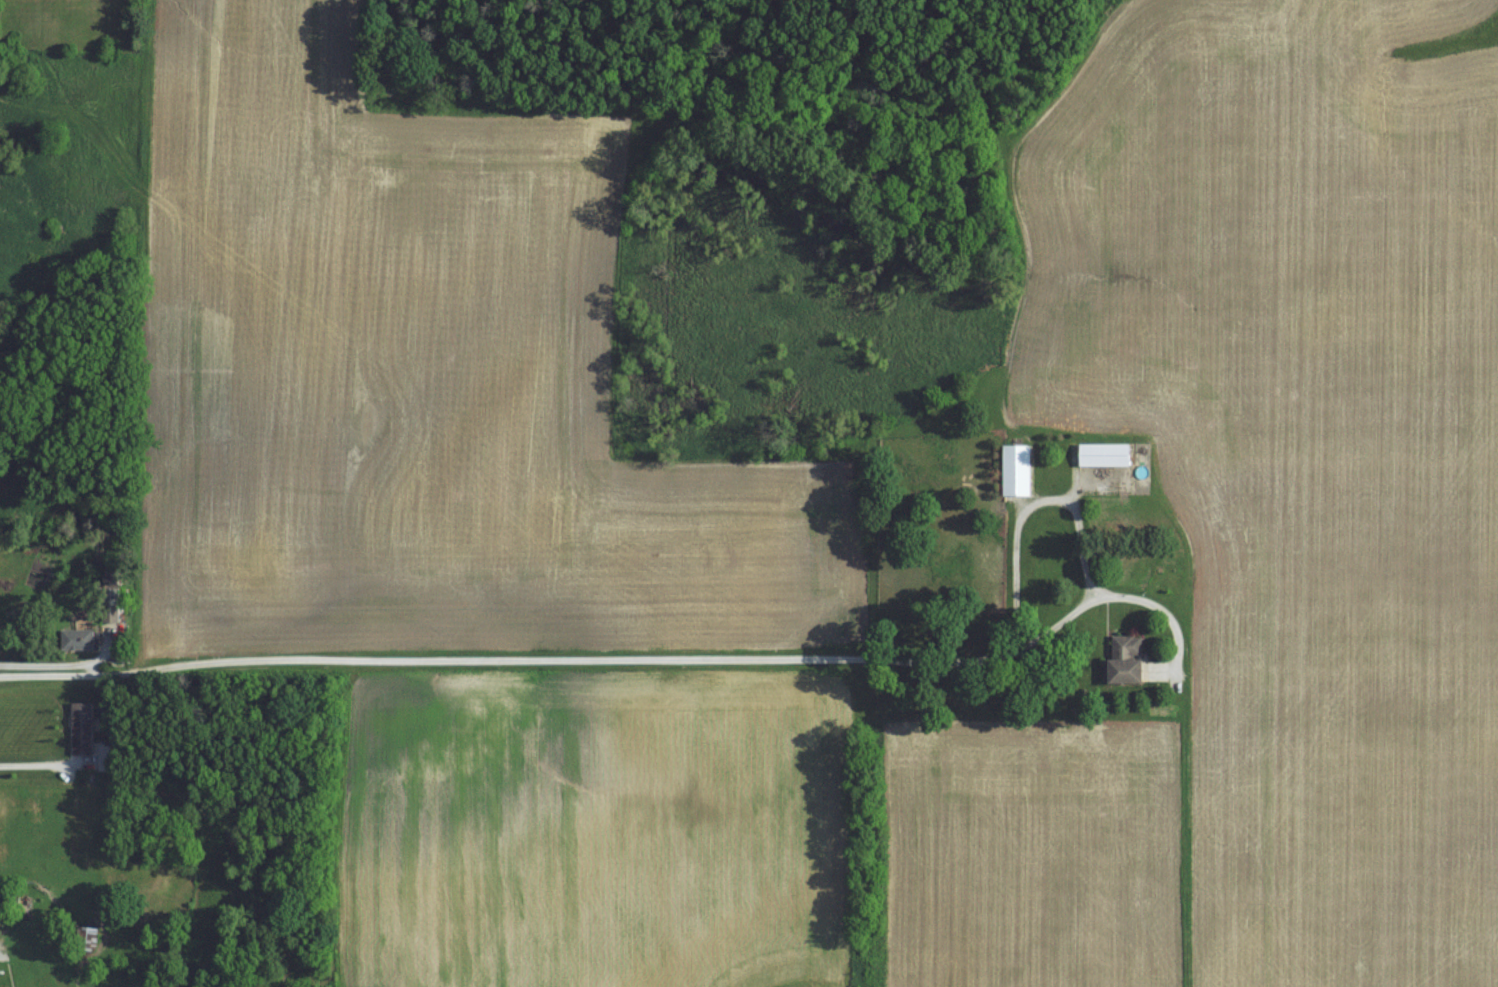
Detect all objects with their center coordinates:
building: (1098, 455)
building: (1013, 470)
road: (622, 659)
road: (51, 660)
building: (83, 727)
building: (108, 757)
road: (35, 765)

